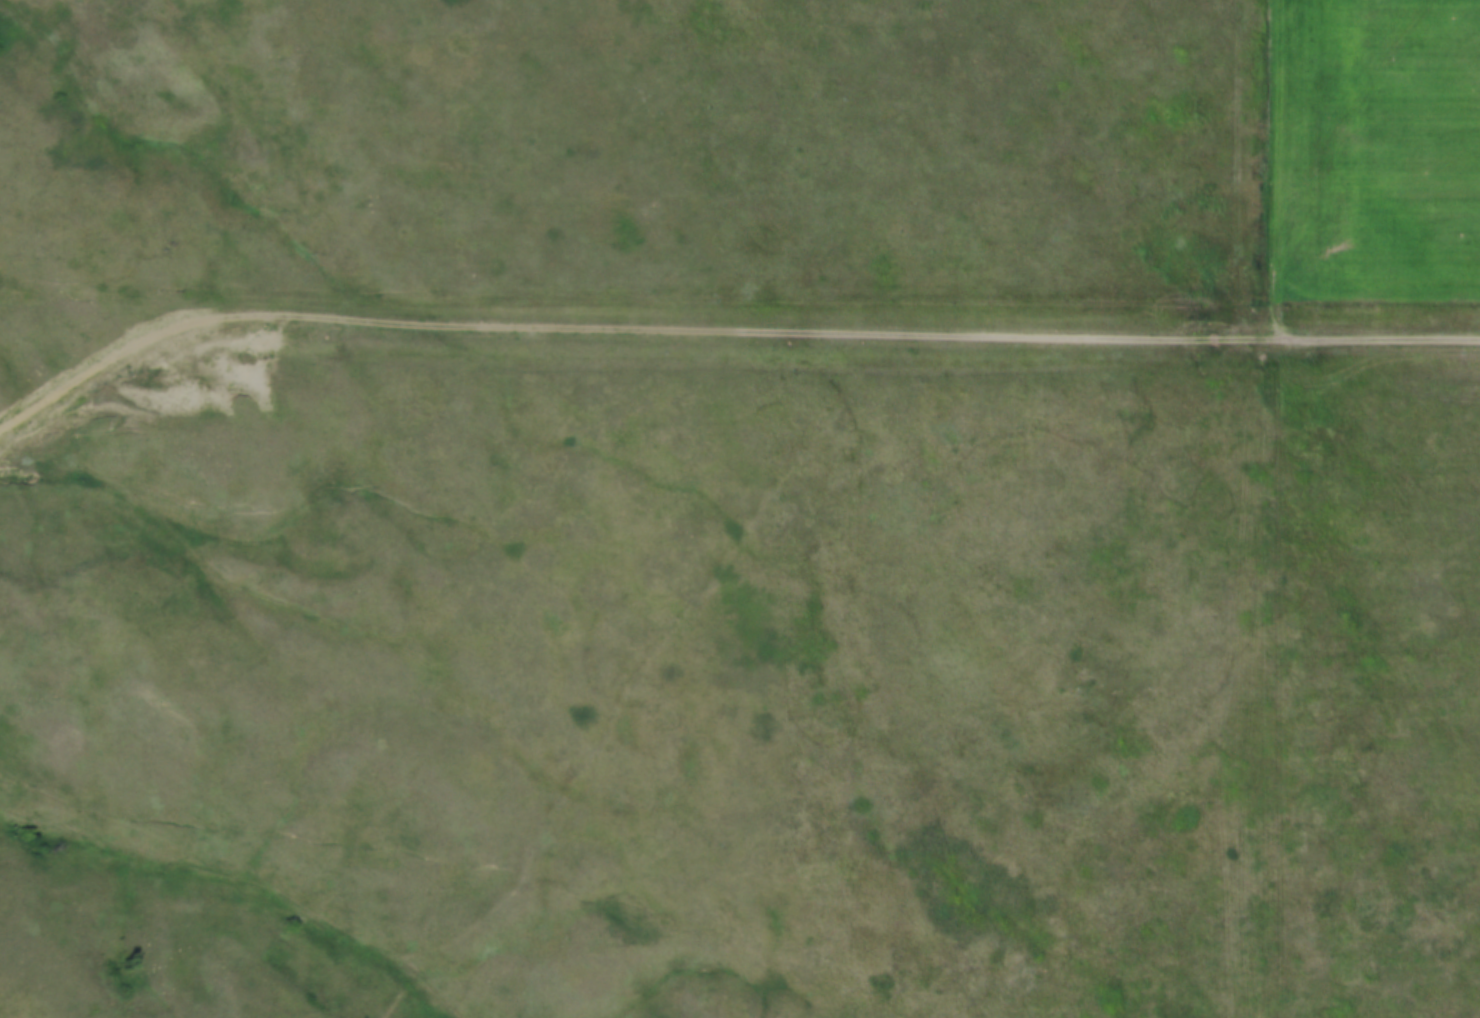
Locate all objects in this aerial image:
road: (1286, 168)
road: (726, 328)
road: (1236, 677)

